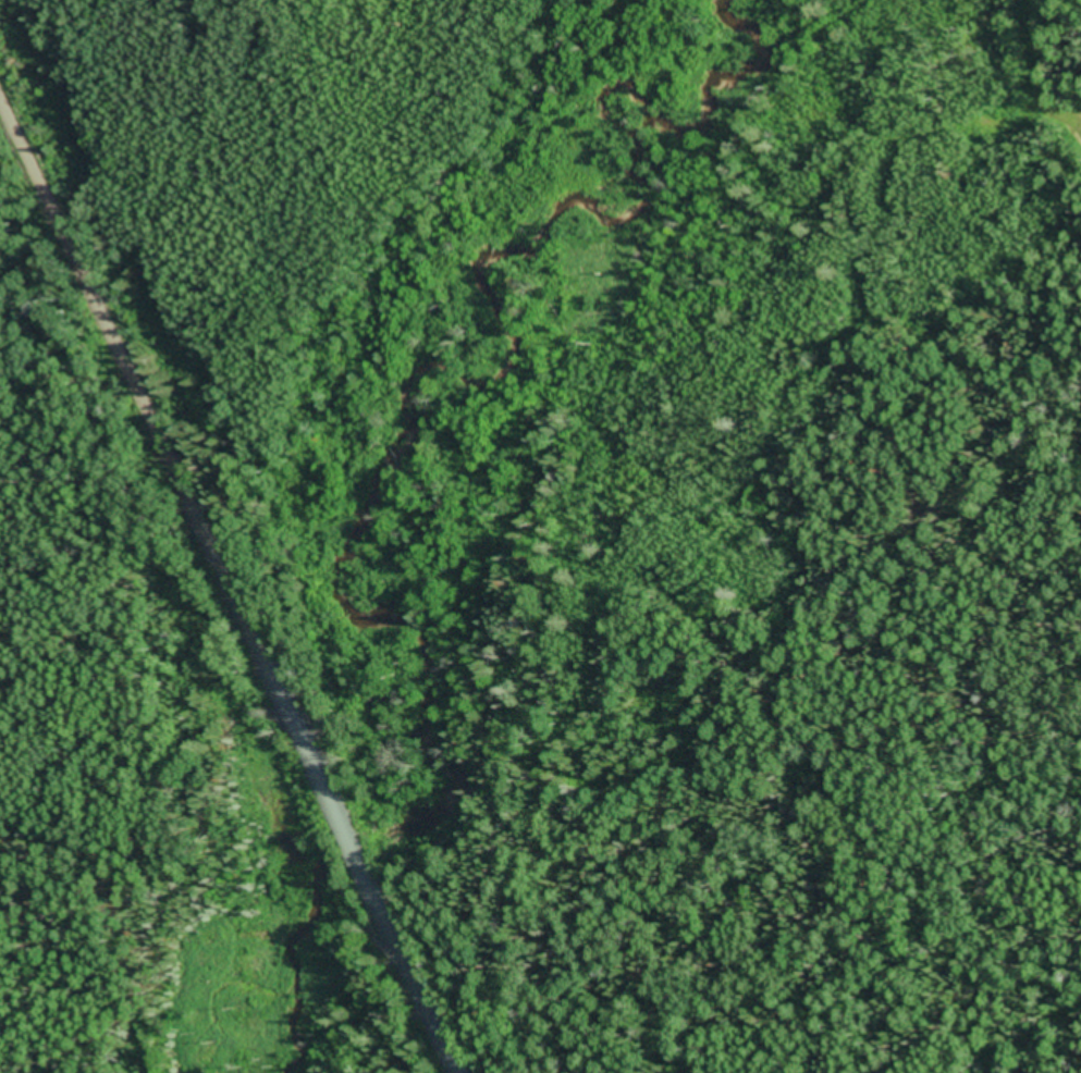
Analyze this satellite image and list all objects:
road: (250, 548)

